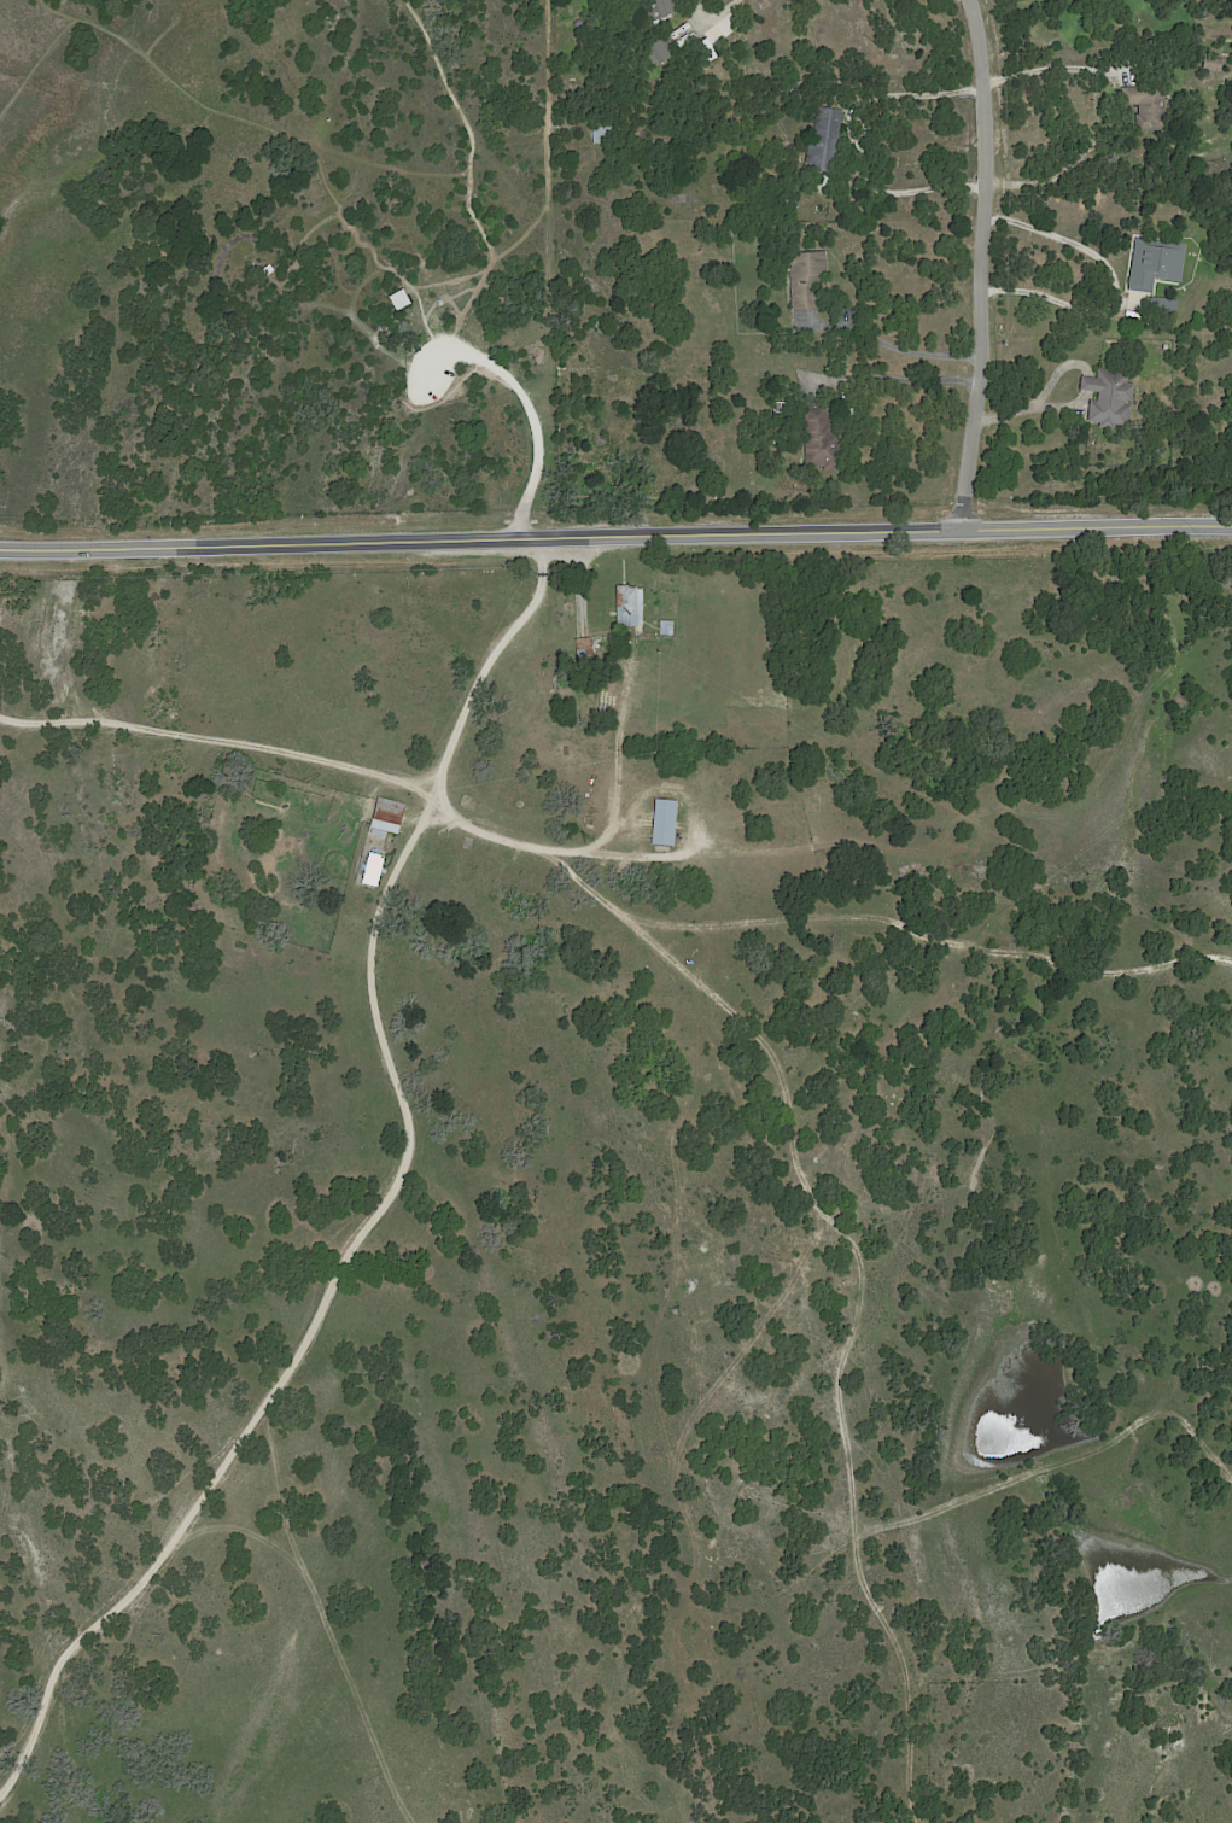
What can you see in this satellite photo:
building: (664, 7)
building: (666, 48)
road: (35, 60)
building: (1214, 64)
road: (1052, 70)
building: (1149, 107)
road: (275, 124)
road: (467, 130)
building: (603, 135)
road: (852, 135)
building: (825, 140)
road: (545, 195)
road: (297, 255)
road: (983, 261)
building: (1158, 263)
road: (487, 265)
park: (291, 270)
building: (810, 279)
road: (1113, 281)
road: (465, 304)
building: (1167, 305)
road: (898, 345)
parking lot: (430, 374)
road: (899, 382)
building: (1111, 397)
road: (1032, 407)
road: (530, 419)
building: (823, 439)
road: (615, 531)
building: (630, 608)
building: (668, 627)
building: (586, 648)
building: (566, 665)
road: (442, 759)
building: (391, 813)
building: (668, 824)
road: (309, 1322)

